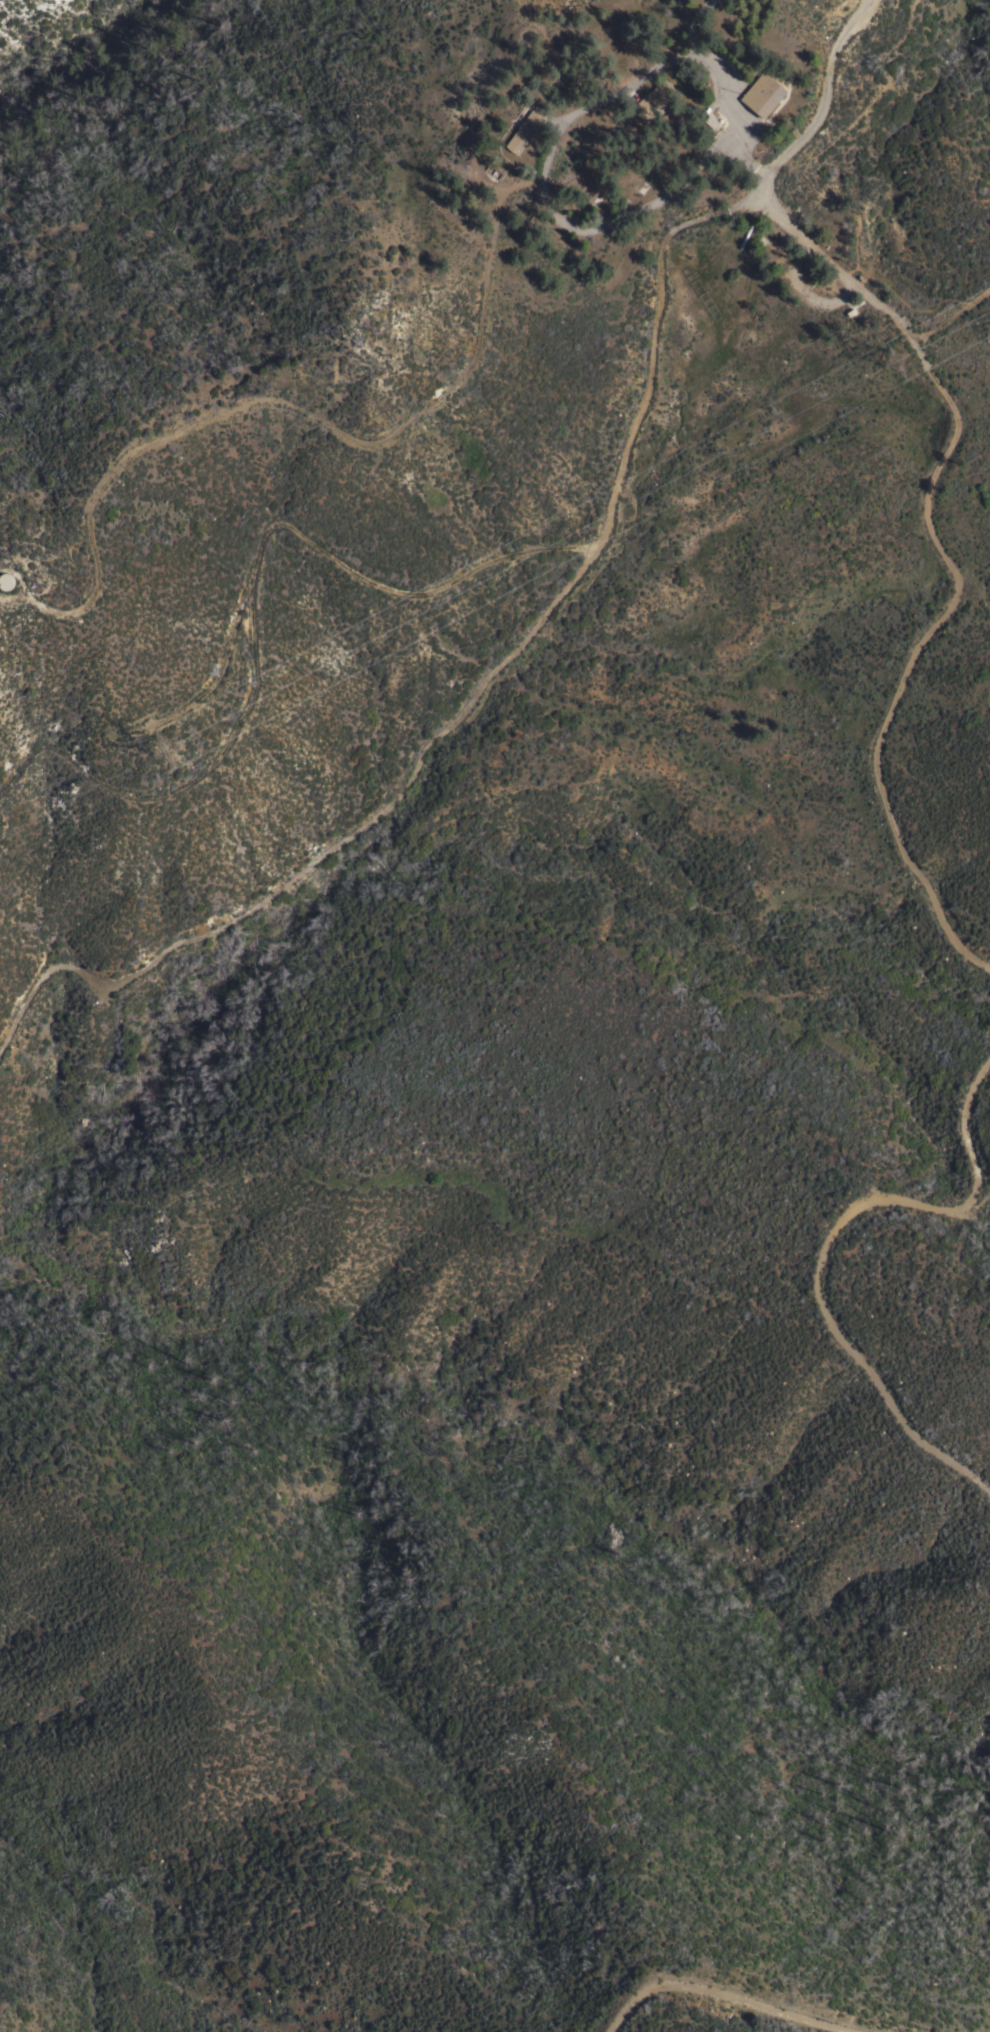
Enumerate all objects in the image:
road: (691, 21)
building: (762, 94)
building: (651, 99)
road: (547, 118)
building: (709, 124)
building: (520, 132)
road: (744, 156)
road: (754, 166)
road: (541, 188)
road: (822, 196)
road: (573, 216)
road: (610, 217)
storage tank: (743, 236)
road: (847, 272)
road: (805, 293)
road: (844, 300)
road: (848, 309)
building: (848, 313)
road: (952, 316)
power tower: (896, 363)
road: (297, 415)
road: (939, 461)
building: (50, 579)
road: (255, 604)
road: (228, 672)
road: (466, 705)
power tower: (167, 750)
road: (823, 1243)
road: (721, 1994)

